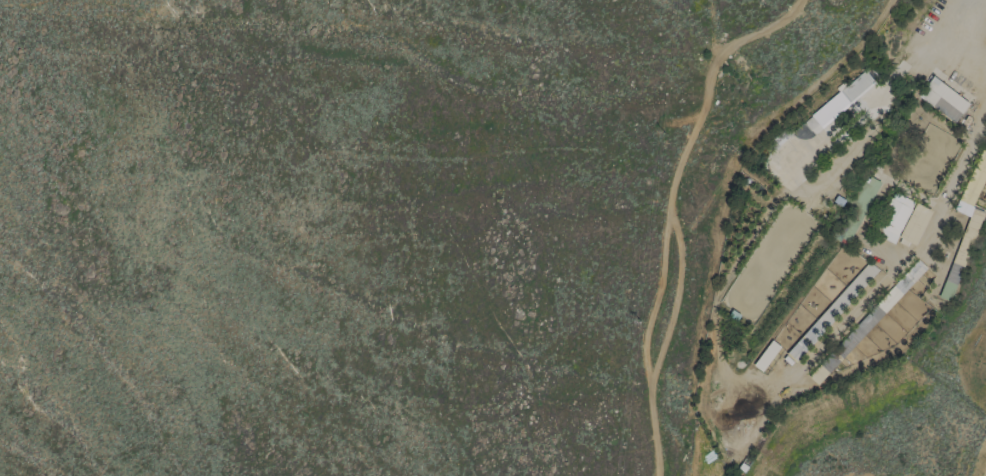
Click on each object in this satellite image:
road: (705, 96)
building: (842, 97)
building: (943, 99)
road: (689, 211)
building: (894, 218)
building: (914, 223)
building: (964, 225)
building: (903, 282)
building: (766, 355)

